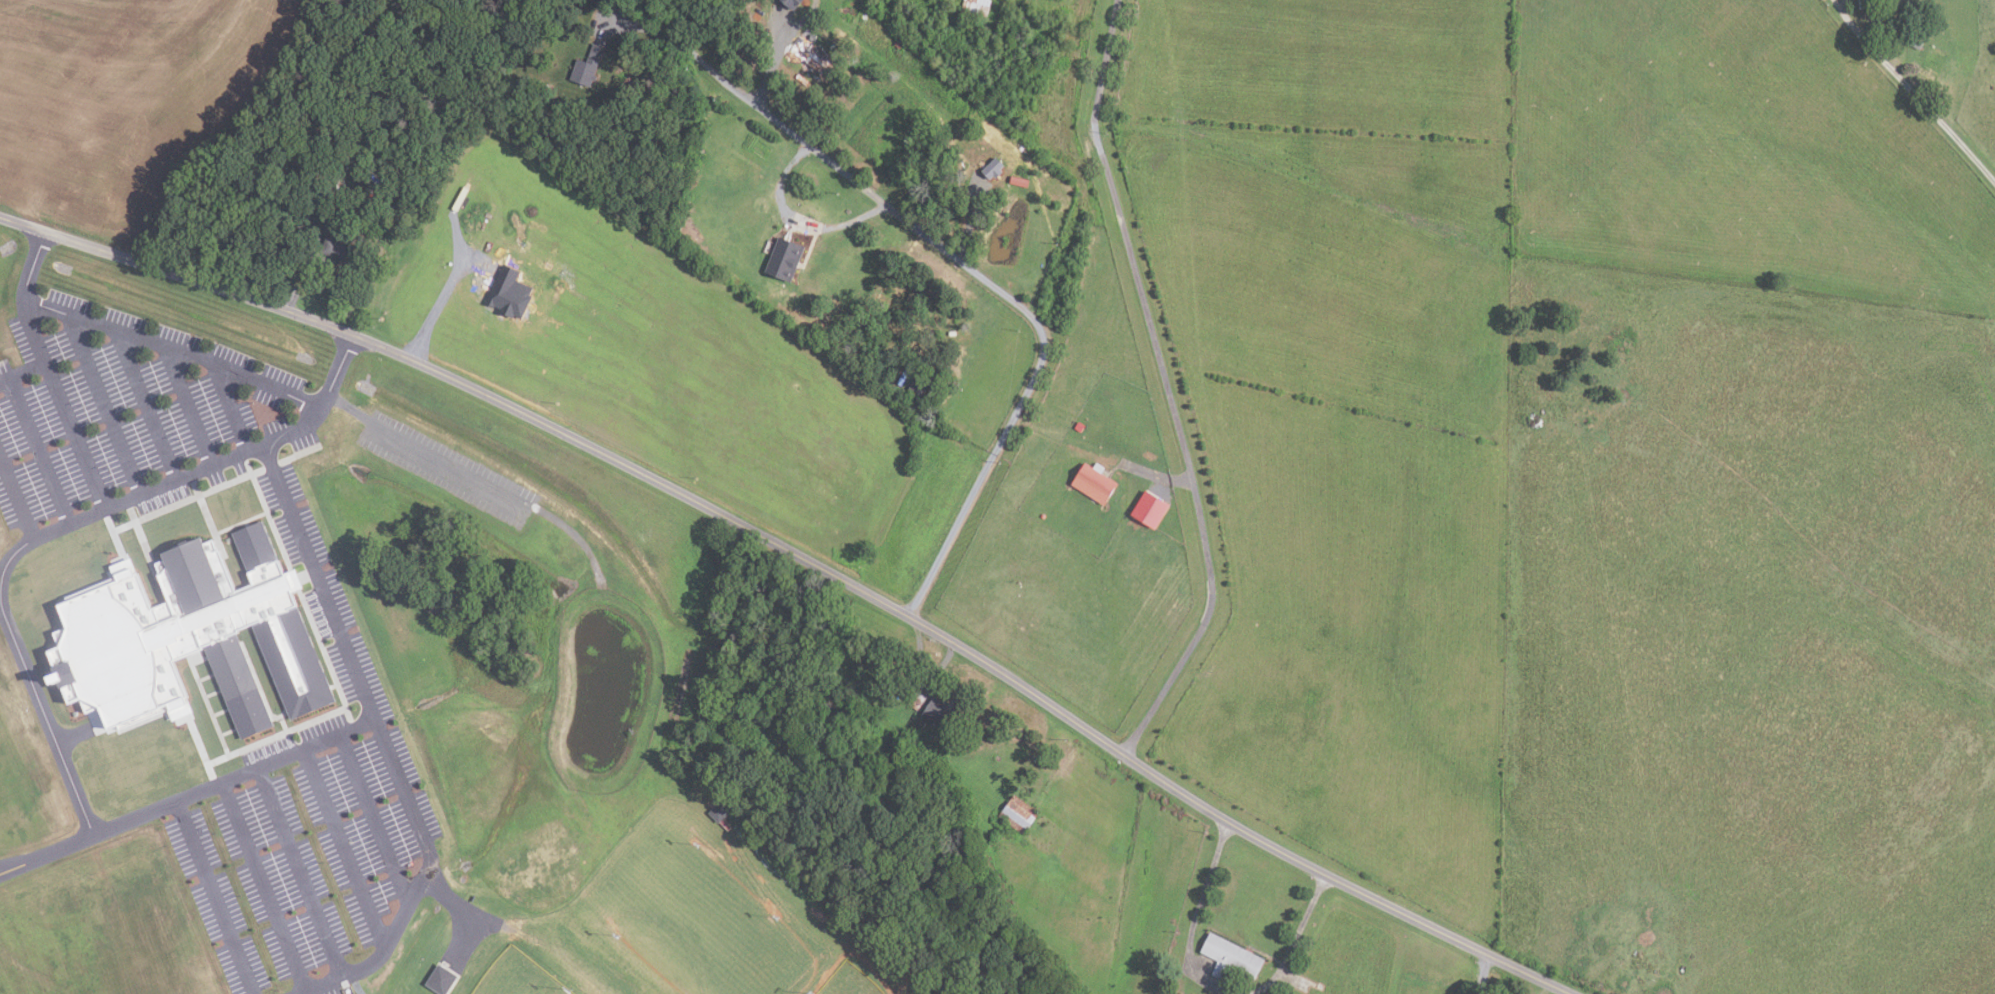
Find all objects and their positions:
building: (793, 3)
building: (976, 7)
road: (660, 34)
building: (1917, 41)
building: (898, 43)
building: (810, 52)
road: (773, 60)
road: (1101, 64)
building: (587, 65)
road: (1912, 93)
crop: (124, 97)
building: (367, 177)
building: (1019, 180)
road: (868, 190)
building: (377, 200)
building: (381, 217)
building: (364, 219)
road: (798, 222)
building: (341, 250)
building: (785, 258)
building: (509, 291)
road: (439, 307)
road: (176, 350)
crop: (681, 358)
road: (21, 370)
road: (58, 402)
road: (103, 402)
road: (149, 405)
road: (191, 406)
road: (233, 408)
crop: (1339, 409)
parking lot: (131, 410)
building: (1080, 426)
road: (37, 448)
road: (1183, 449)
road: (422, 454)
road: (986, 467)
parking lot: (446, 468)
road: (183, 476)
building: (1094, 484)
road: (16, 498)
building: (1150, 509)
building: (1043, 515)
road: (46, 528)
road: (307, 548)
road: (806, 560)
road: (1, 613)
building: (182, 633)
building: (917, 700)
building: (940, 711)
road: (45, 721)
building: (921, 724)
building: (1034, 759)
road: (407, 795)
road: (169, 803)
building: (720, 810)
building: (1019, 814)
parking lot: (312, 815)
road: (373, 820)
road: (345, 847)
road: (301, 873)
road: (264, 887)
road: (214, 897)
building: (1231, 957)
road: (370, 965)
park: (518, 976)
building: (441, 980)
park: (850, 981)
road: (1212, 983)

